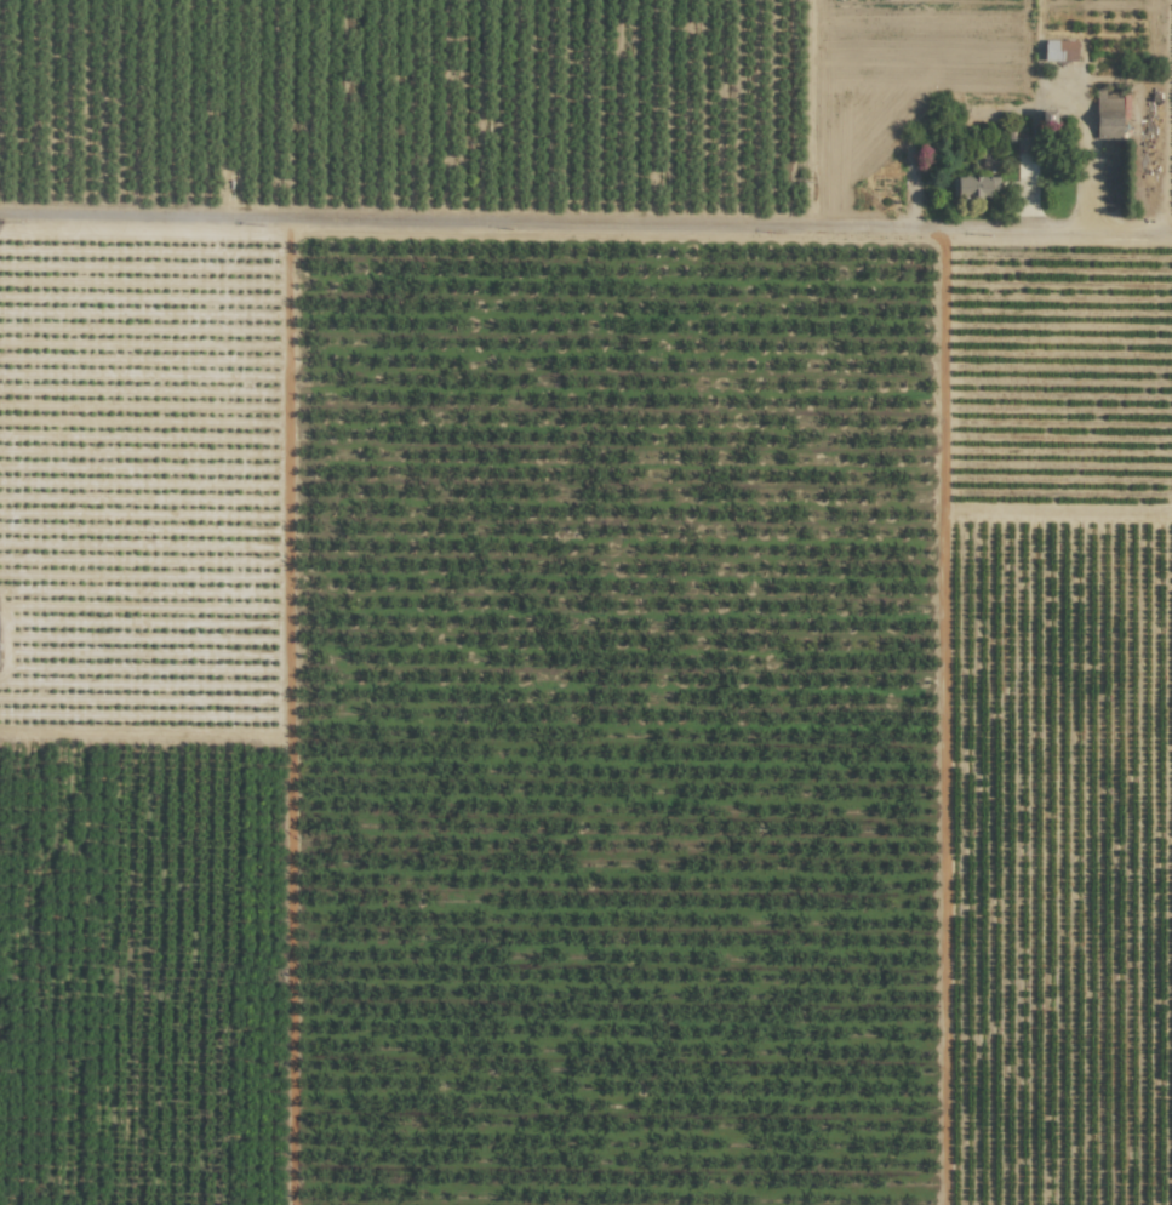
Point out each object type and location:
building: (1056, 52)
building: (1108, 118)
building: (974, 187)
road: (585, 232)
road: (141, 736)

